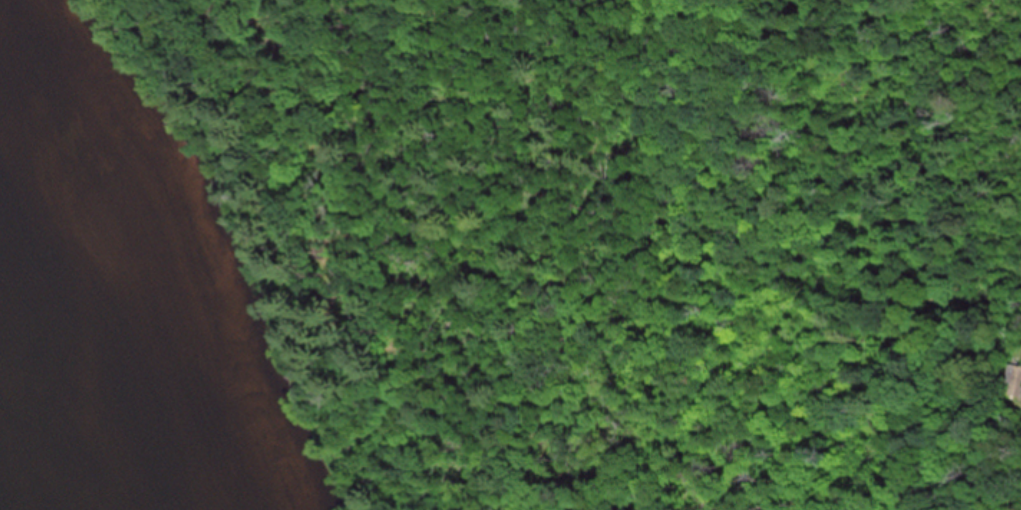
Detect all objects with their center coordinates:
road: (539, 255)
river: (64, 359)
building: (1020, 381)
park: (46, 408)

